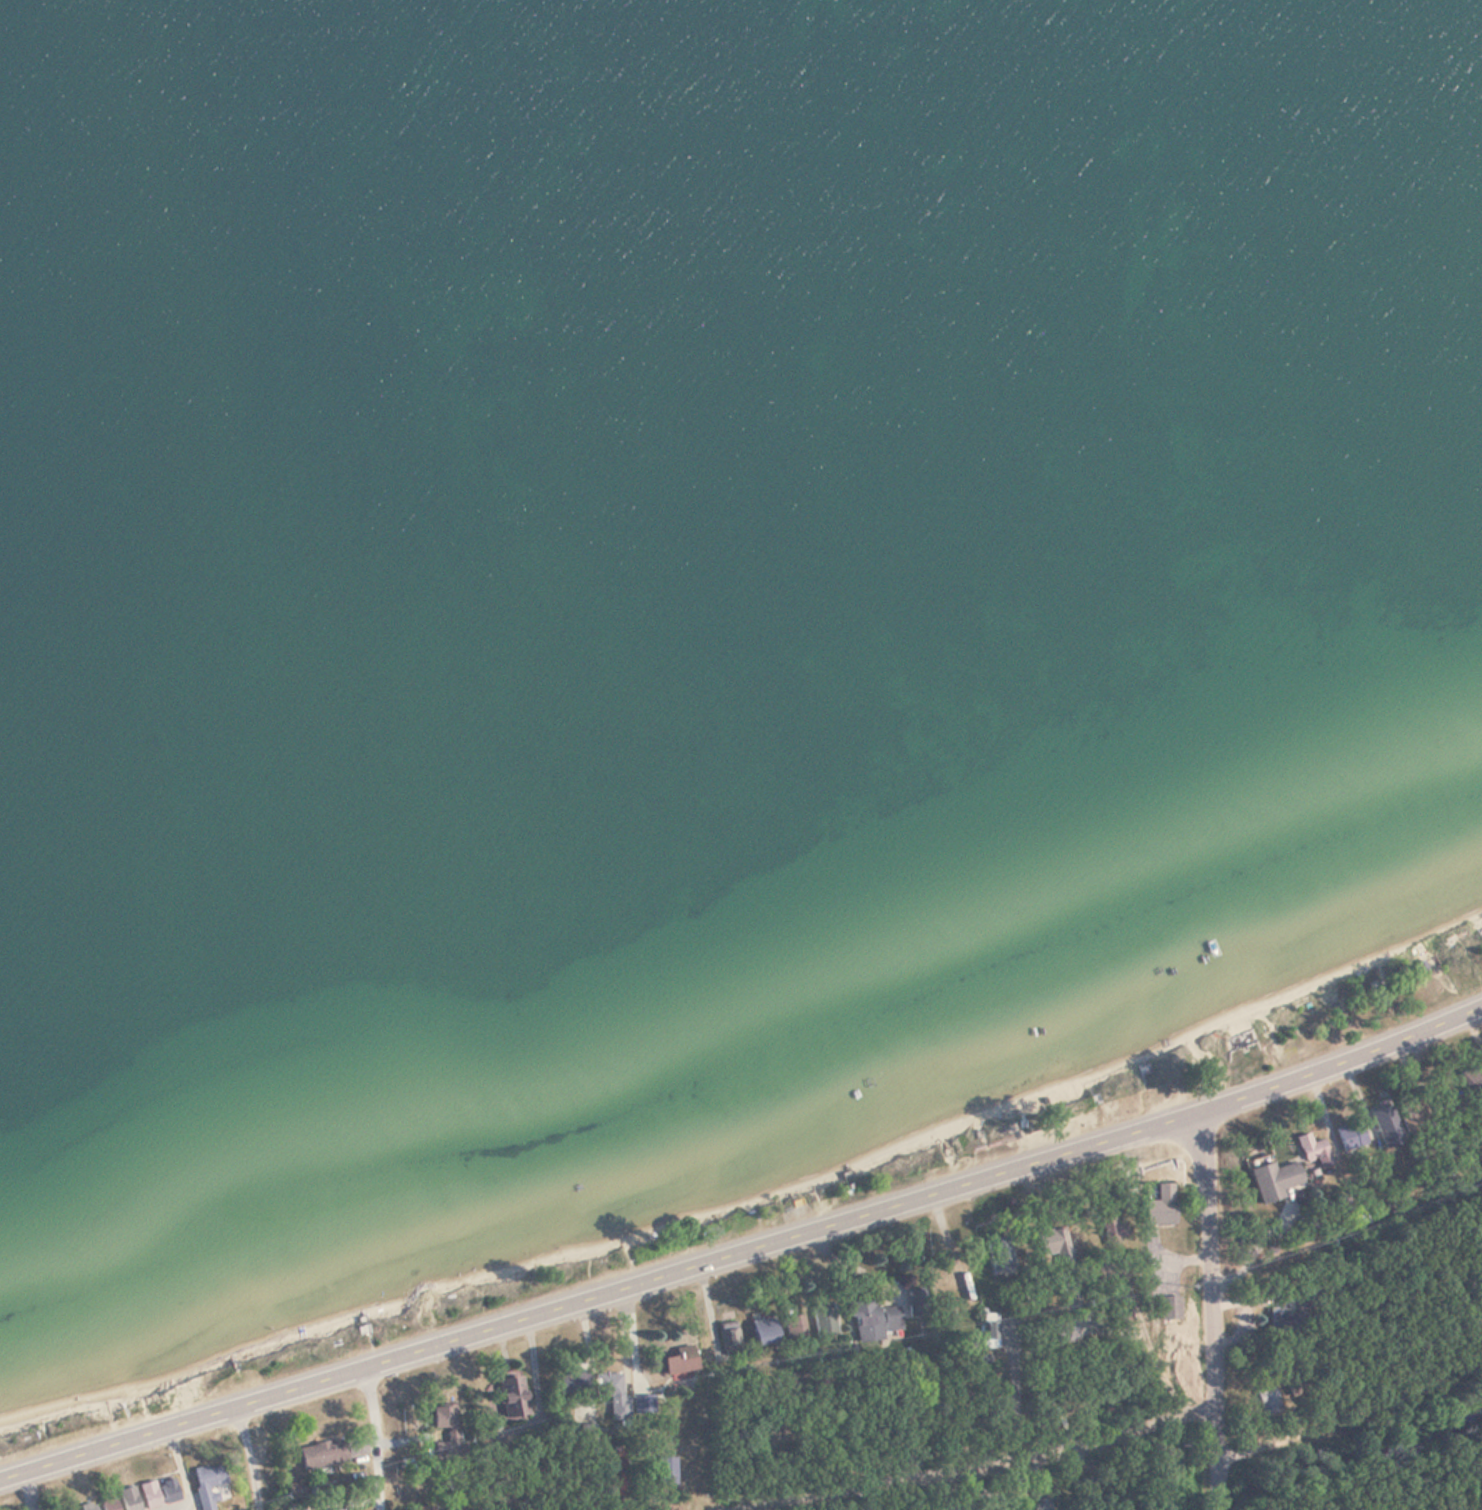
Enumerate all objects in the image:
building: (1350, 1138)
building: (1313, 1151)
building: (1271, 1179)
building: (1162, 1206)
building: (1114, 1229)
building: (1055, 1245)
road: (743, 1252)
building: (1004, 1252)
building: (915, 1302)
building: (1169, 1308)
road: (1206, 1311)
building: (874, 1319)
building: (824, 1320)
building: (1280, 1322)
building: (795, 1329)
building: (765, 1332)
building: (989, 1334)
building: (729, 1337)
building: (682, 1362)
building: (574, 1383)
building: (613, 1392)
building: (514, 1398)
building: (1265, 1402)
road: (1347, 1414)
building: (448, 1421)
road: (383, 1437)
building: (325, 1456)
road: (255, 1459)
road: (972, 1459)
building: (613, 1470)
building: (667, 1471)
building: (210, 1484)
road: (187, 1491)
building: (151, 1495)
building: (130, 1499)
building: (110, 1504)
building: (91, 1507)

